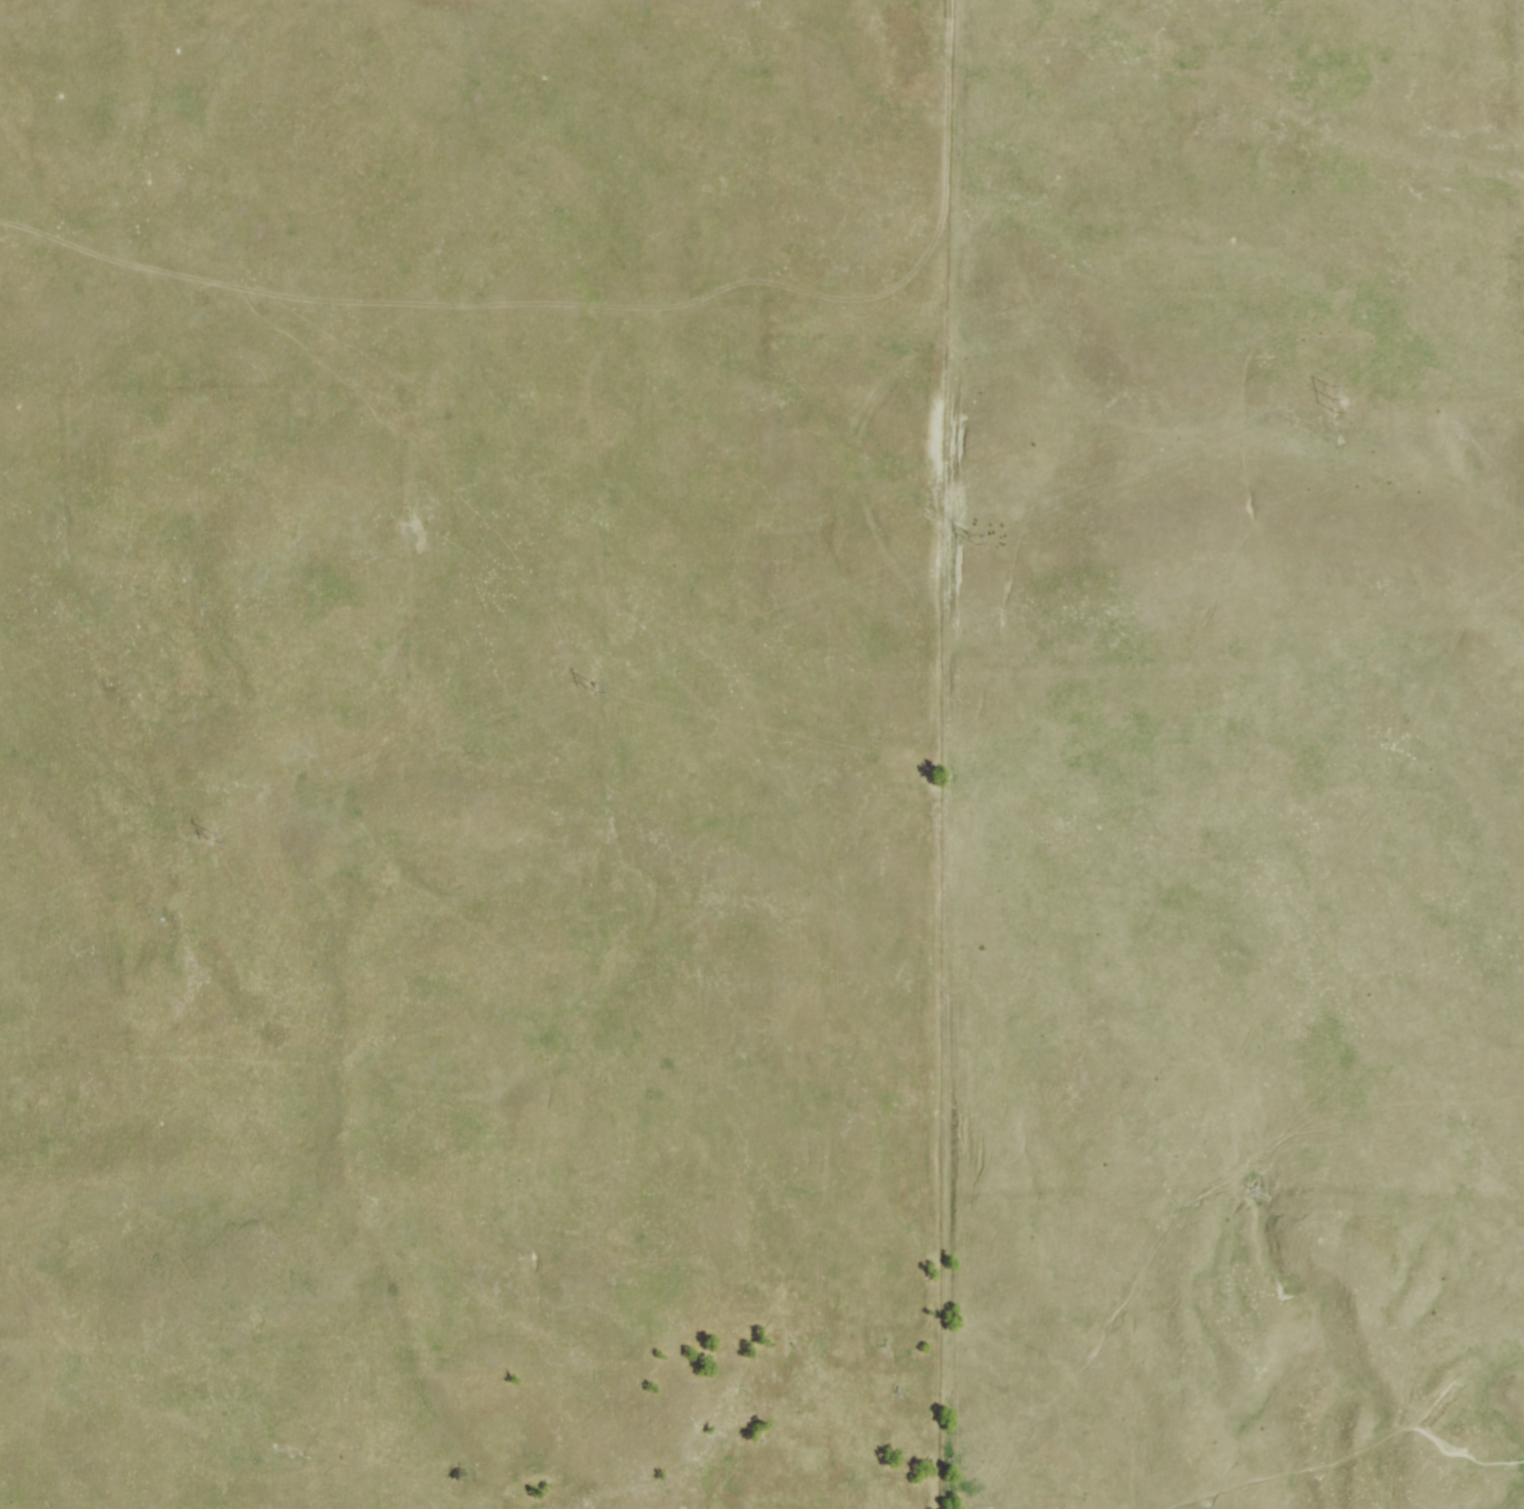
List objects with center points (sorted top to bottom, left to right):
power tower: (1330, 401)
power tower: (972, 541)
power tower: (594, 688)
power tower: (211, 839)

